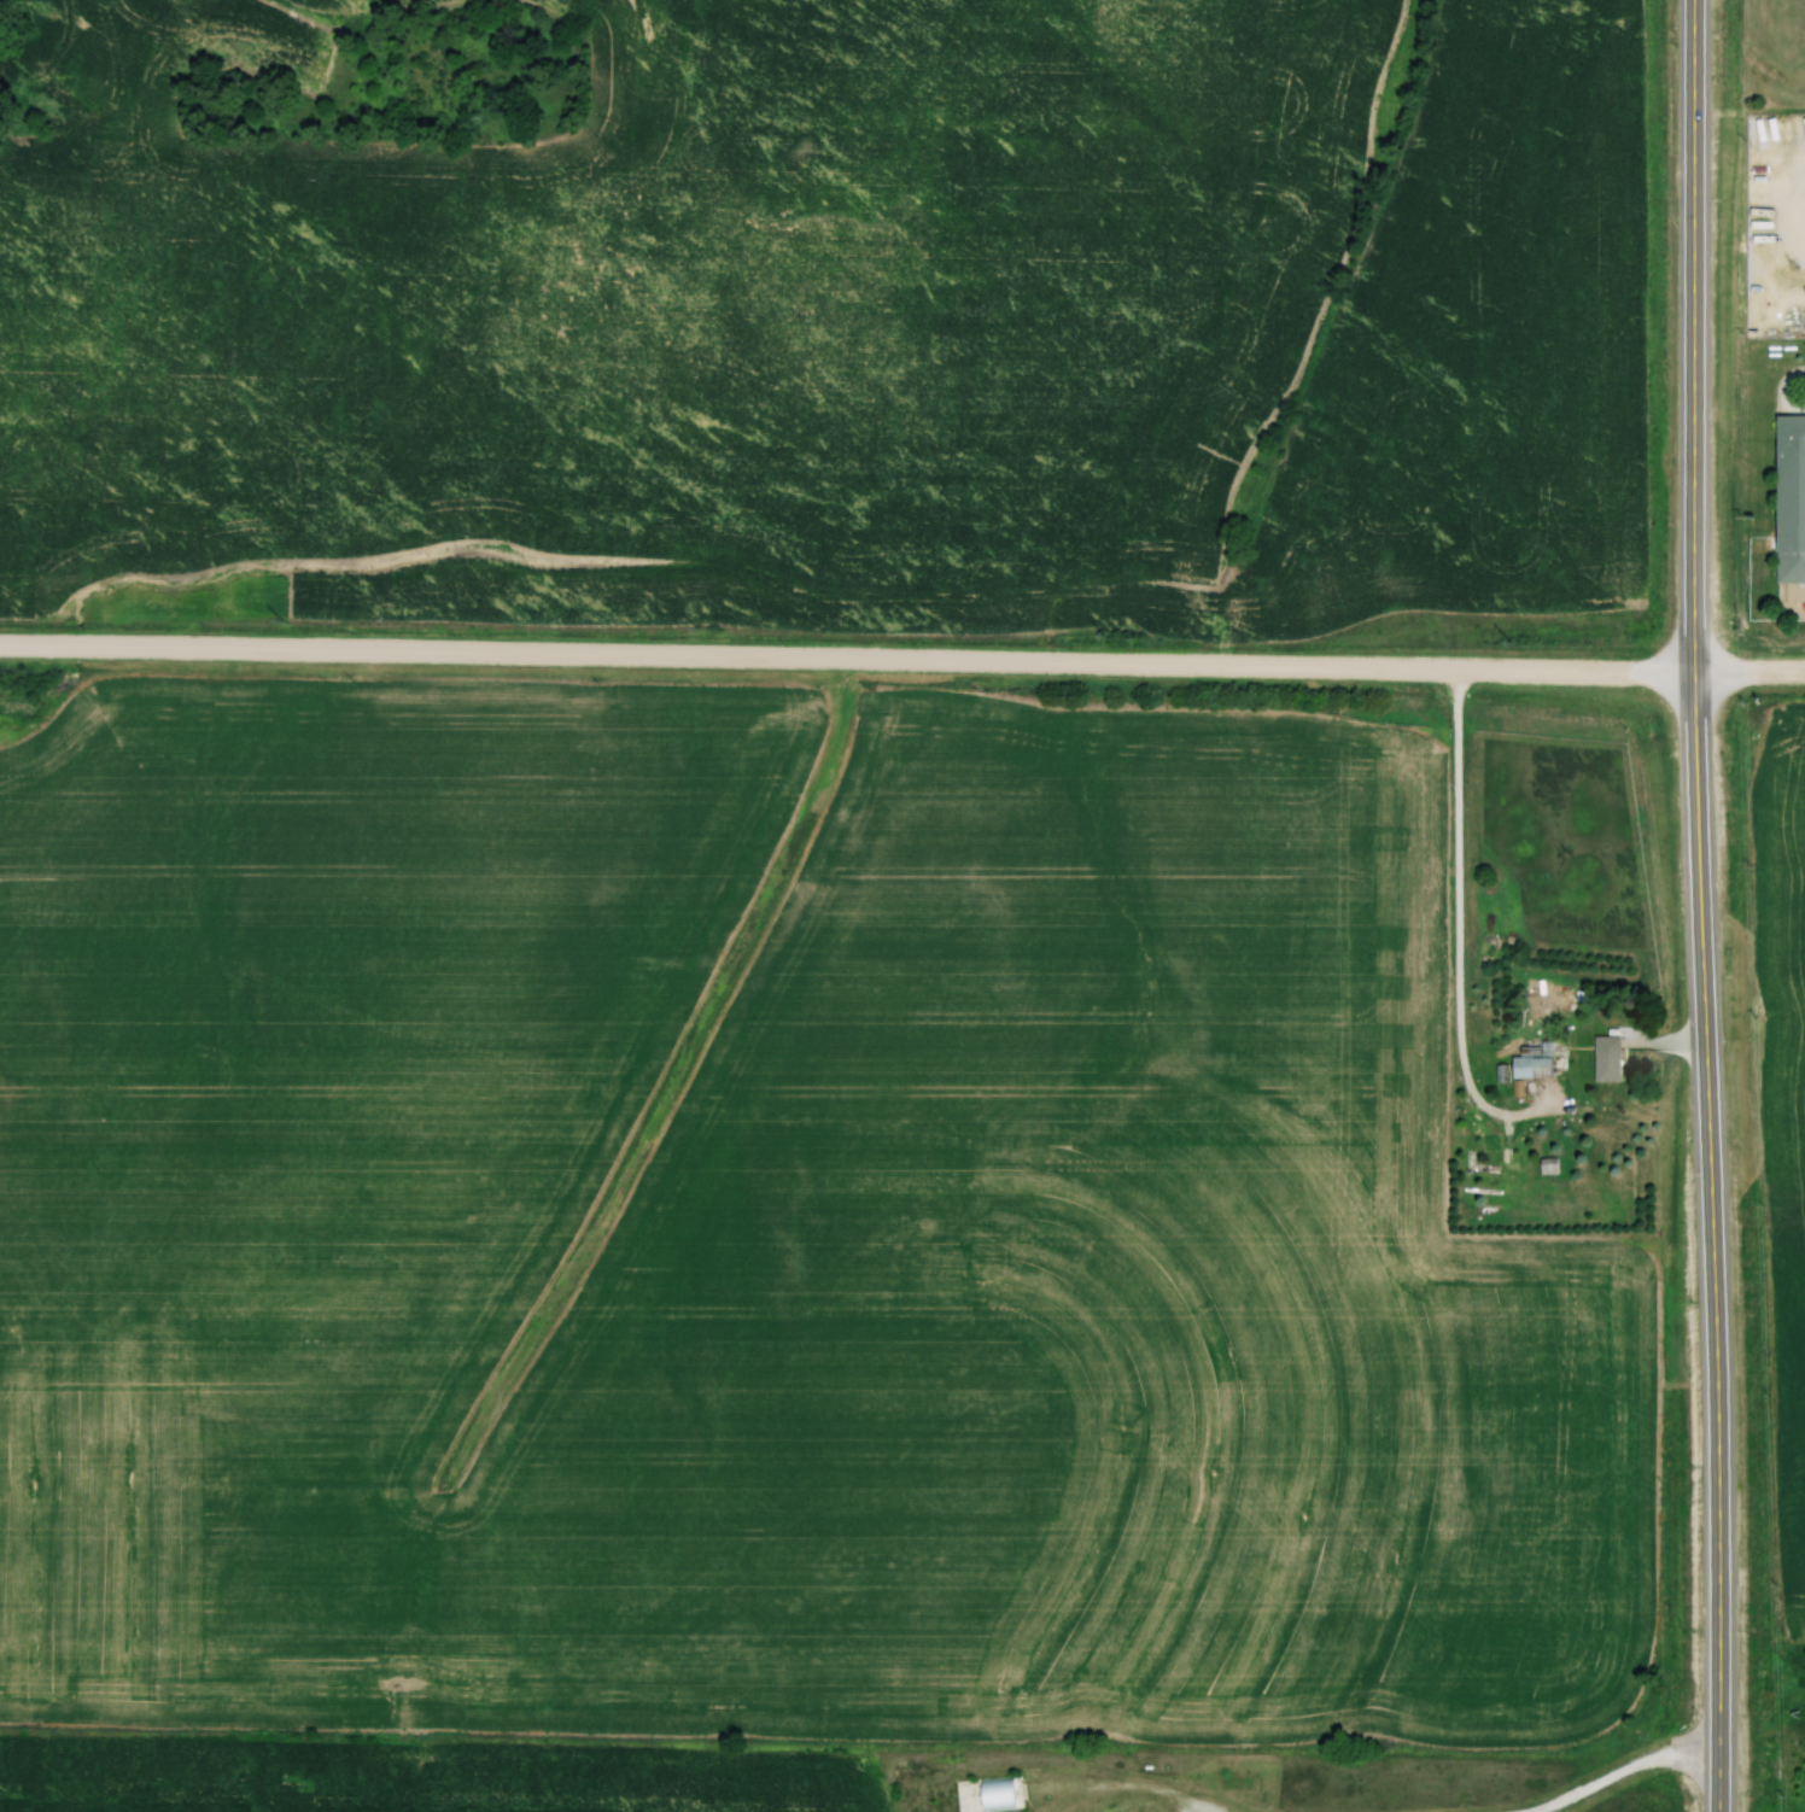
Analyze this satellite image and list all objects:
road: (1693, 52)
road: (1693, 390)
building: (1791, 497)
road: (847, 659)
road: (1749, 673)
building: (1608, 1059)
building: (1537, 1064)
road: (1706, 1243)
road: (1623, 1771)
building: (991, 1794)

